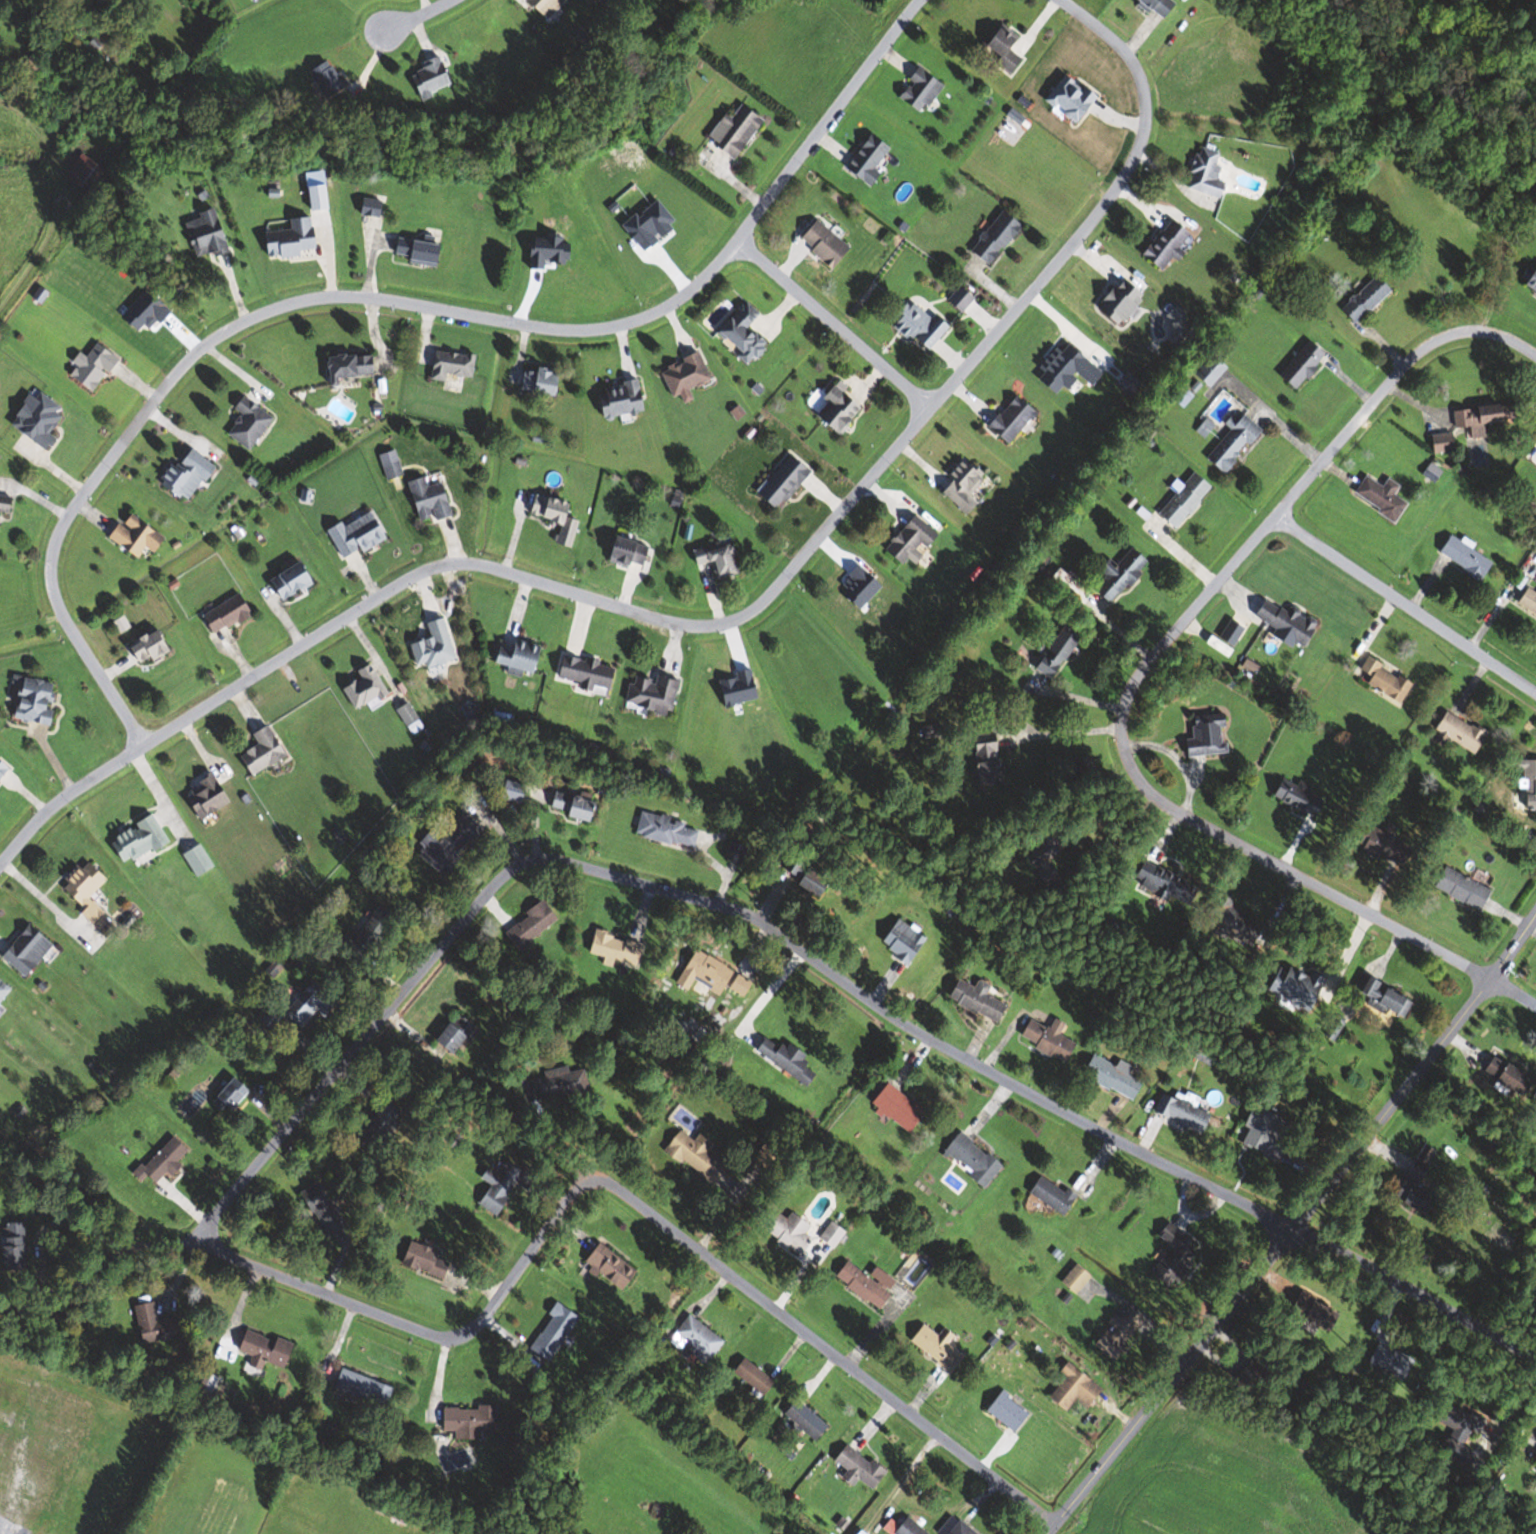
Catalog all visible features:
building: (548, 6)
building: (1152, 6)
road: (412, 17)
building: (1007, 47)
building: (36, 62)
building: (433, 77)
building: (923, 90)
building: (1065, 98)
building: (739, 130)
building: (872, 157)
building: (84, 169)
building: (1201, 174)
building: (209, 234)
building: (999, 237)
building: (828, 244)
building: (1160, 245)
building: (421, 250)
building: (1528, 280)
building: (963, 298)
road: (396, 299)
building: (1360, 300)
road: (833, 320)
building: (922, 324)
building: (746, 332)
building: (455, 365)
building: (1296, 365)
building: (355, 366)
building: (95, 367)
building: (1206, 371)
building: (688, 375)
building: (544, 381)
building: (623, 400)
building: (844, 407)
building: (1014, 418)
building: (1472, 419)
building: (251, 423)
building: (1228, 442)
building: (1440, 442)
building: (393, 465)
building: (190, 474)
building: (788, 481)
building: (966, 485)
building: (1378, 498)
building: (431, 499)
building: (1179, 501)
building: (6, 506)
building: (554, 508)
building: (360, 535)
building: (139, 536)
building: (912, 543)
building: (632, 551)
building: (720, 558)
building: (1460, 558)
road: (790, 565)
building: (1114, 575)
building: (295, 581)
building: (1062, 581)
road: (1406, 598)
building: (1525, 603)
building: (229, 614)
building: (1281, 622)
building: (436, 646)
building: (153, 647)
building: (1049, 653)
building: (522, 657)
road: (1147, 658)
building: (589, 673)
building: (1378, 680)
building: (367, 688)
building: (655, 693)
building: (38, 700)
building: (409, 714)
road: (1073, 730)
building: (1455, 732)
building: (1201, 737)
building: (265, 752)
building: (981, 760)
building: (4, 769)
building: (1525, 783)
road: (66, 796)
building: (210, 797)
building: (1293, 798)
building: (576, 805)
building: (662, 831)
building: (141, 840)
building: (445, 840)
building: (1371, 843)
building: (1039, 852)
building: (731, 854)
building: (199, 860)
building: (1158, 883)
building: (1456, 889)
building: (90, 893)
road: (700, 898)
building: (1226, 922)
building: (533, 924)
building: (897, 943)
building: (609, 949)
building: (30, 950)
building: (711, 970)
building: (736, 986)
building: (1291, 987)
building: (4, 991)
road: (1514, 992)
road: (765, 994)
building: (1380, 999)
building: (971, 1000)
building: (303, 1007)
building: (459, 1034)
building: (1043, 1039)
building: (781, 1060)
building: (1108, 1077)
building: (1501, 1077)
building: (561, 1084)
building: (237, 1094)
building: (891, 1107)
building: (1177, 1114)
building: (385, 1121)
building: (1255, 1131)
building: (691, 1157)
building: (967, 1159)
building: (165, 1161)
building: (1411, 1180)
building: (502, 1187)
building: (1047, 1196)
road: (629, 1199)
building: (325, 1209)
road: (1297, 1227)
building: (784, 1233)
building: (827, 1237)
road: (163, 1243)
building: (16, 1247)
building: (1169, 1256)
building: (428, 1261)
building: (612, 1267)
building: (861, 1284)
road: (1416, 1299)
building: (1308, 1312)
building: (157, 1325)
building: (556, 1332)
building: (691, 1341)
building: (931, 1349)
building: (267, 1350)
building: (0, 1355)
building: (1383, 1360)
building: (749, 1377)
building: (366, 1387)
building: (13, 1391)
building: (1062, 1396)
building: (1002, 1412)
building: (797, 1417)
building: (472, 1420)
building: (63, 1426)
building: (1455, 1433)
building: (855, 1467)
building: (1534, 1469)
building: (50, 1481)
building: (40, 1527)
building: (950, 1527)
building: (903, 1528)

